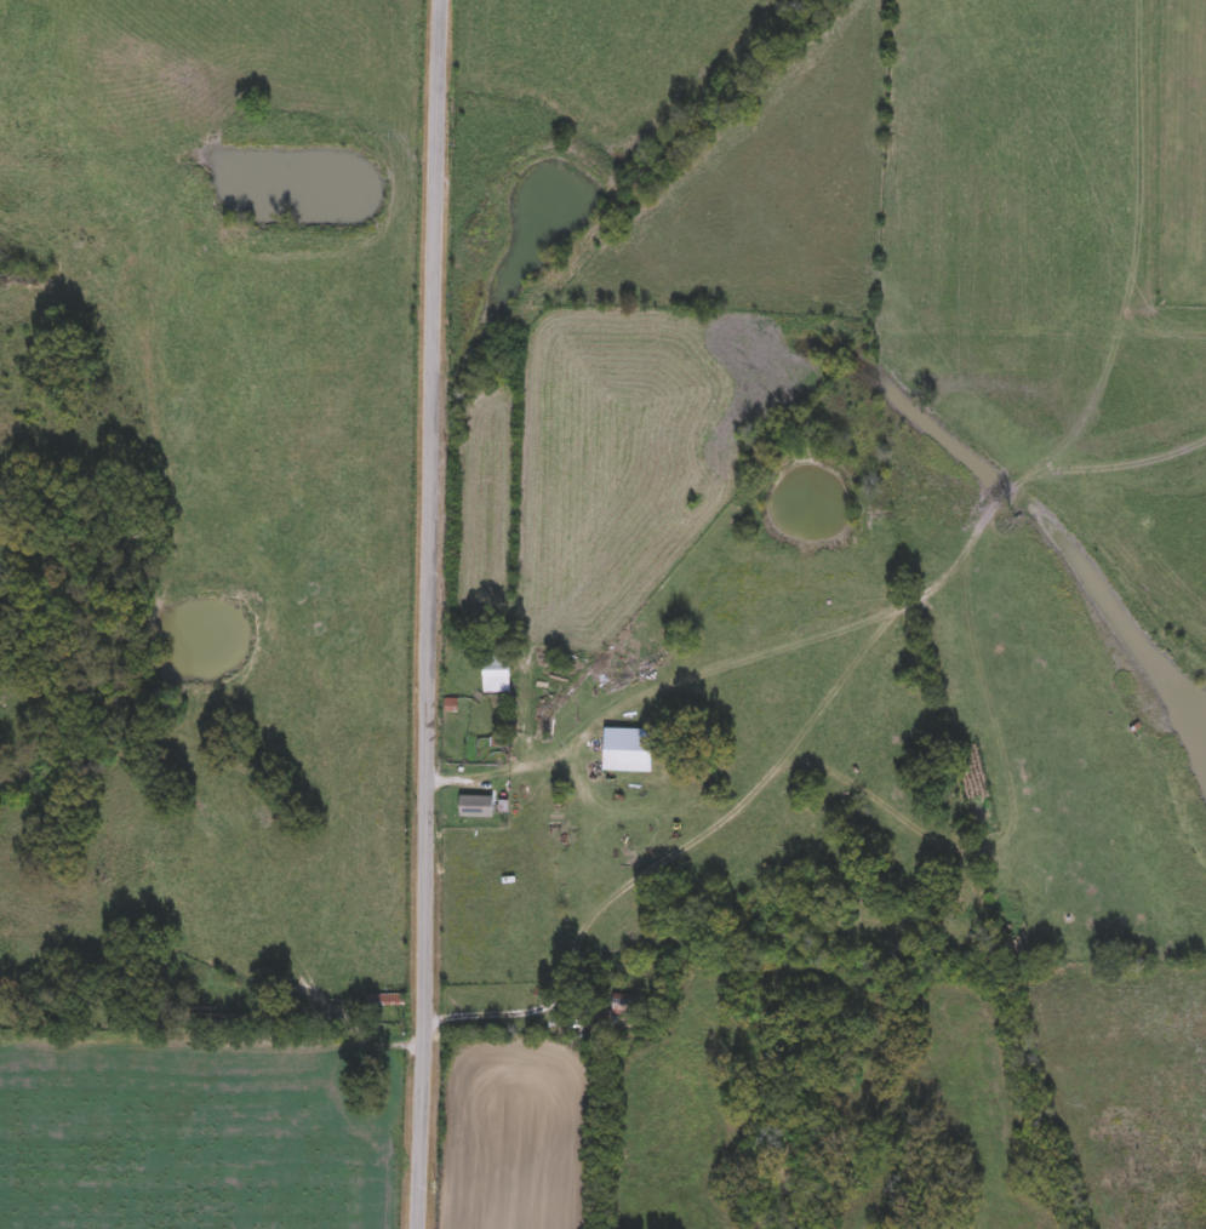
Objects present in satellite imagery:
road: (428, 614)
building: (496, 676)
building: (627, 750)
building: (475, 808)
building: (384, 1000)
building: (624, 1005)
road: (498, 1012)

